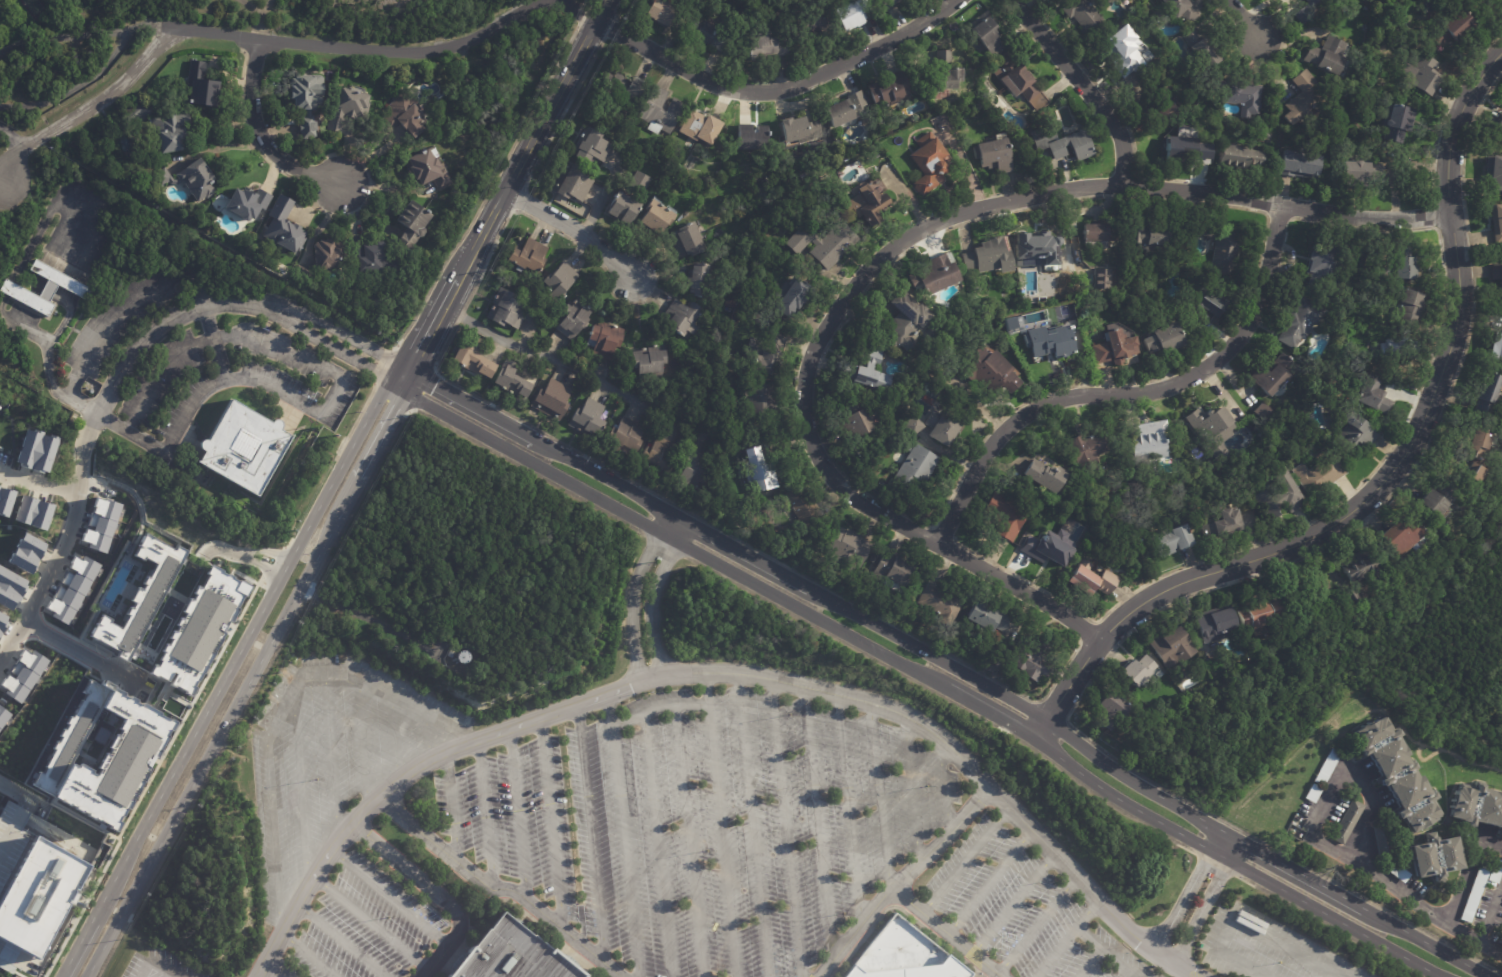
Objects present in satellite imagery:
building: (1311, 2)
building: (1480, 2)
building: (888, 4)
building: (1176, 8)
building: (658, 12)
building: (851, 14)
building: (1085, 16)
building: (1300, 16)
road: (1243, 18)
building: (803, 22)
building: (813, 22)
road: (151, 26)
building: (1448, 30)
building: (987, 35)
road: (62, 36)
building: (709, 36)
road: (277, 41)
building: (761, 47)
building: (1122, 49)
building: (1199, 51)
building: (1325, 55)
building: (942, 71)
building: (1420, 74)
building: (1018, 83)
road: (1082, 84)
road: (75, 86)
building: (204, 87)
road: (777, 87)
building: (886, 88)
building: (628, 91)
building: (1239, 96)
building: (1309, 97)
building: (310, 100)
building: (1162, 101)
building: (351, 108)
building: (841, 108)
building: (663, 112)
building: (135, 116)
building: (406, 116)
building: (1288, 118)
building: (1394, 120)
building: (1499, 125)
building: (704, 127)
building: (792, 129)
building: (173, 132)
road: (260, 133)
road: (12, 137)
building: (1040, 137)
building: (755, 138)
building: (1070, 146)
building: (594, 147)
building: (1196, 151)
building: (992, 155)
building: (1240, 158)
building: (1300, 163)
building: (928, 165)
building: (431, 169)
building: (1359, 173)
building: (1493, 173)
road: (2, 177)
building: (191, 179)
building: (643, 182)
building: (575, 183)
road: (513, 189)
building: (249, 203)
building: (864, 205)
building: (625, 208)
building: (657, 218)
building: (1496, 222)
building: (413, 226)
building: (285, 228)
road: (570, 229)
building: (1094, 235)
building: (1144, 235)
building: (688, 242)
building: (818, 243)
building: (1218, 244)
building: (1031, 247)
road: (888, 250)
building: (330, 254)
building: (530, 257)
building: (985, 257)
building: (373, 258)
building: (1403, 265)
building: (1318, 269)
building: (935, 273)
building: (303, 277)
building: (1100, 279)
building: (1497, 279)
building: (699, 280)
building: (560, 282)
building: (45, 288)
building: (787, 298)
building: (1211, 302)
building: (731, 304)
building: (506, 310)
building: (1402, 310)
road: (113, 314)
building: (576, 319)
building: (684, 320)
building: (901, 321)
building: (1303, 322)
building: (1162, 339)
building: (607, 341)
building: (1049, 342)
building: (1112, 348)
building: (1494, 348)
building: (1396, 351)
road: (536, 356)
building: (767, 357)
building: (475, 359)
building: (651, 361)
road: (123, 364)
building: (864, 372)
road: (157, 373)
building: (987, 373)
building: (1274, 374)
parking lot: (226, 377)
building: (514, 381)
road: (1129, 393)
building: (1483, 393)
building: (1370, 397)
building: (556, 398)
building: (754, 398)
road: (329, 400)
building: (1265, 413)
building: (590, 419)
building: (850, 421)
building: (653, 423)
road: (176, 426)
building: (911, 426)
building: (1211, 427)
building: (938, 428)
building: (628, 435)
building: (1352, 435)
building: (1146, 444)
building: (1473, 445)
building: (245, 447)
building: (1086, 449)
building: (37, 451)
building: (725, 452)
building: (660, 455)
building: (913, 468)
building: (697, 470)
building: (753, 472)
building: (1318, 475)
building: (1468, 475)
road: (1387, 477)
building: (1041, 478)
road: (39, 482)
building: (1277, 497)
building: (6, 501)
building: (1431, 502)
building: (33, 512)
building: (799, 512)
building: (1003, 517)
building: (101, 525)
building: (1221, 525)
building: (1398, 538)
building: (1168, 541)
road: (221, 549)
building: (846, 549)
building: (1051, 551)
building: (26, 553)
road: (243, 553)
building: (1358, 567)
building: (891, 572)
building: (1087, 581)
building: (10, 588)
building: (72, 588)
road: (632, 595)
road: (653, 597)
building: (1353, 598)
building: (937, 602)
building: (1304, 602)
building: (162, 609)
building: (1261, 616)
building: (3, 621)
building: (984, 621)
building: (1213, 625)
building: (1172, 646)
road: (80, 652)
building: (450, 652)
road: (952, 665)
building: (1027, 665)
building: (1137, 670)
road: (237, 673)
road: (716, 673)
road: (924, 674)
building: (23, 675)
road: (358, 679)
road: (705, 689)
road: (610, 710)
road: (658, 710)
building: (1108, 714)
road: (427, 736)
road: (395, 740)
road: (362, 744)
building: (103, 753)
parking lot: (330, 753)
road: (328, 759)
building: (1330, 762)
building: (1395, 773)
building: (1320, 779)
road: (1333, 779)
road: (943, 785)
road: (299, 786)
road: (12, 790)
road: (911, 792)
building: (1312, 793)
road: (879, 801)
building: (1477, 807)
road: (451, 808)
road: (849, 810)
road: (484, 813)
road: (518, 820)
building: (1346, 822)
road: (817, 823)
parking lot: (703, 825)
road: (551, 826)
road: (752, 826)
road: (785, 828)
road: (591, 836)
road: (273, 837)
building: (1381, 840)
road: (720, 841)
road: (689, 842)
road: (657, 845)
road: (625, 851)
building: (1435, 857)
road: (964, 861)
road: (1466, 866)
building: (1494, 871)
building: (1397, 872)
road: (902, 882)
road: (988, 883)
building: (35, 888)
road: (497, 888)
road: (432, 891)
road: (1185, 891)
building: (1474, 893)
road: (391, 899)
road: (1207, 903)
road: (1011, 905)
road: (1490, 909)
parking lot: (1025, 911)
road: (1432, 911)
road: (1084, 915)
parking lot: (365, 925)
road: (373, 925)
road: (1037, 927)
road: (947, 934)
road: (1221, 936)
road: (341, 941)
parking lot: (1265, 948)
road: (1282, 948)
road: (1054, 953)
road: (1103, 953)
road: (308, 955)
building: (509, 955)
building: (901, 957)
road: (1090, 964)
road: (1240, 964)
parking lot: (158, 965)
road: (275, 968)
road: (145, 969)
road: (163, 969)
road: (1122, 974)

